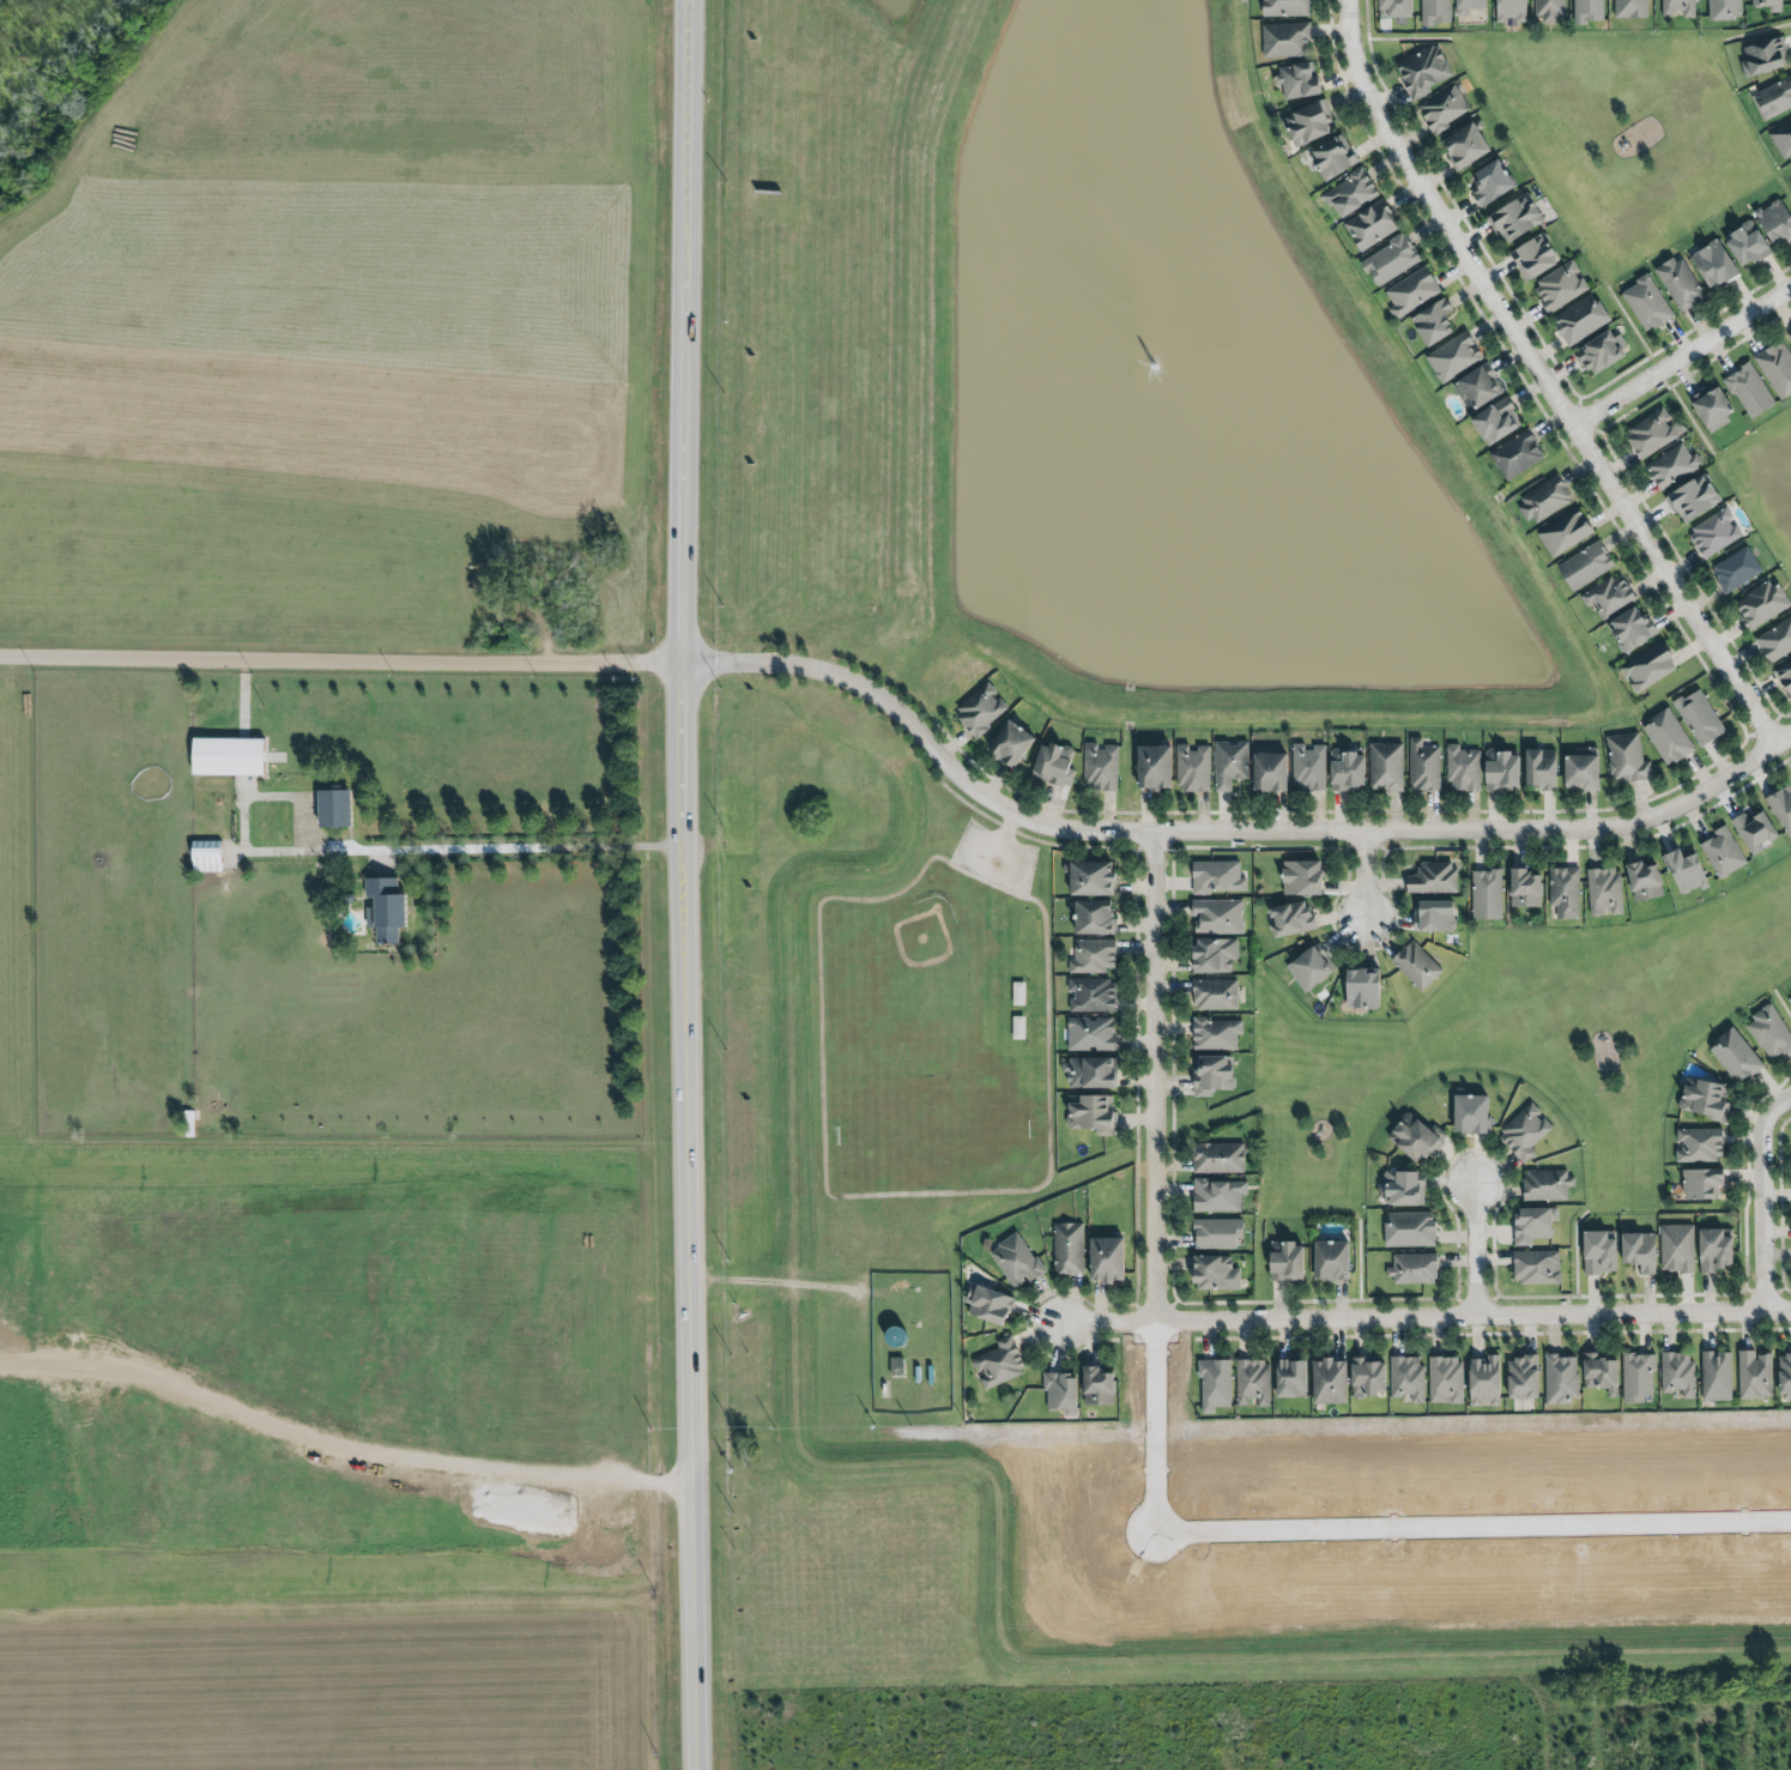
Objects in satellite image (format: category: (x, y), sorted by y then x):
building: (1469, 6)
building: (1769, 6)
building: (1283, 8)
building: (1391, 8)
building: (1630, 8)
building: (1680, 8)
building: (1725, 10)
building: (1512, 11)
building: (1550, 11)
building: (1586, 11)
building: (1436, 12)
building: (1287, 41)
building: (1765, 59)
building: (1423, 73)
building: (1299, 83)
building: (1774, 101)
building: (1444, 110)
building: (1309, 125)
building: (1783, 141)
building: (1468, 150)
building: (1335, 161)
building: (1790, 163)
building: (1493, 187)
building: (1348, 193)
building: (1513, 217)
building: (1775, 223)
building: (1372, 228)
building: (1743, 243)
building: (1531, 256)
building: (1392, 262)
building: (1716, 267)
building: (1678, 283)
building: (1561, 289)
building: (1410, 292)
building: (1645, 303)
building: (1581, 322)
building: (1434, 326)
building: (1789, 337)
building: (1598, 351)
road: (1683, 355)
building: (1453, 360)
building: (1777, 366)
road: (1544, 376)
building: (1749, 388)
building: (1480, 391)
building: (1713, 405)
building: (1497, 424)
building: (1653, 431)
building: (1517, 457)
building: (1672, 464)
building: (1693, 494)
building: (1542, 500)
building: (1563, 533)
building: (1712, 533)
building: (1586, 564)
building: (1735, 569)
building: (1609, 596)
building: (1759, 605)
building: (1633, 627)
building: (1774, 641)
road: (344, 658)
building: (1647, 667)
building: (1785, 673)
building: (981, 708)
building: (1699, 717)
building: (1669, 736)
building: (1006, 743)
building: (230, 755)
building: (1624, 759)
building: (1054, 763)
building: (1228, 763)
building: (1155, 765)
building: (1309, 765)
building: (1387, 765)
building: (1424, 765)
building: (1101, 766)
building: (1542, 766)
building: (1190, 768)
building: (1348, 768)
building: (1462, 768)
building: (1502, 769)
building: (1578, 769)
building: (1265, 772)
building: (335, 804)
building: (1781, 805)
building: (1751, 830)
road: (1224, 833)
building: (1724, 851)
building: (207, 857)
road: (459, 859)
building: (1687, 869)
building: (1303, 875)
building: (1091, 876)
building: (1217, 876)
road: (1363, 876)
building: (1434, 877)
building: (1645, 878)
road: (689, 884)
building: (1526, 886)
building: (1566, 890)
building: (1603, 892)
building: (1488, 893)
building: (387, 906)
building: (1435, 913)
building: (1095, 914)
building: (1220, 916)
building: (1293, 917)
building: (1215, 954)
building: (1094, 956)
building: (1417, 963)
building: (1312, 965)
building: (1365, 985)
building: (1017, 993)
building: (1090, 995)
building: (1212, 995)
building: (1016, 1027)
building: (1768, 1032)
building: (1093, 1033)
building: (1217, 1033)
building: (1736, 1055)
building: (1089, 1073)
building: (1214, 1073)
road: (1150, 1076)
building: (1706, 1098)
building: (1474, 1111)
building: (1095, 1112)
building: (1525, 1131)
building: (1418, 1135)
building: (1700, 1144)
building: (1220, 1156)
building: (1702, 1180)
building: (1545, 1185)
building: (1406, 1186)
building: (1218, 1194)
road: (1763, 1200)
building: (1531, 1225)
building: (1411, 1228)
building: (1218, 1232)
building: (1069, 1248)
building: (1640, 1249)
building: (1675, 1249)
building: (1716, 1249)
road: (1476, 1250)
building: (1599, 1251)
building: (1108, 1257)
building: (1287, 1258)
building: (1333, 1258)
building: (1017, 1261)
building: (1537, 1265)
building: (1415, 1267)
building: (1217, 1271)
road: (779, 1285)
building: (990, 1303)
road: (1421, 1316)
building: (997, 1364)
building: (895, 1366)
building: (1678, 1372)
building: (1597, 1373)
building: (1638, 1375)
building: (1717, 1375)
building: (1755, 1375)
building: (1785, 1375)
building: (1291, 1376)
building: (1524, 1376)
building: (1365, 1377)
building: (1409, 1377)
building: (1446, 1378)
building: (1561, 1378)
building: (1331, 1379)
building: (1253, 1381)
building: (1481, 1381)
building: (1099, 1384)
building: (1212, 1385)
building: (1061, 1390)
road: (1368, 1529)

